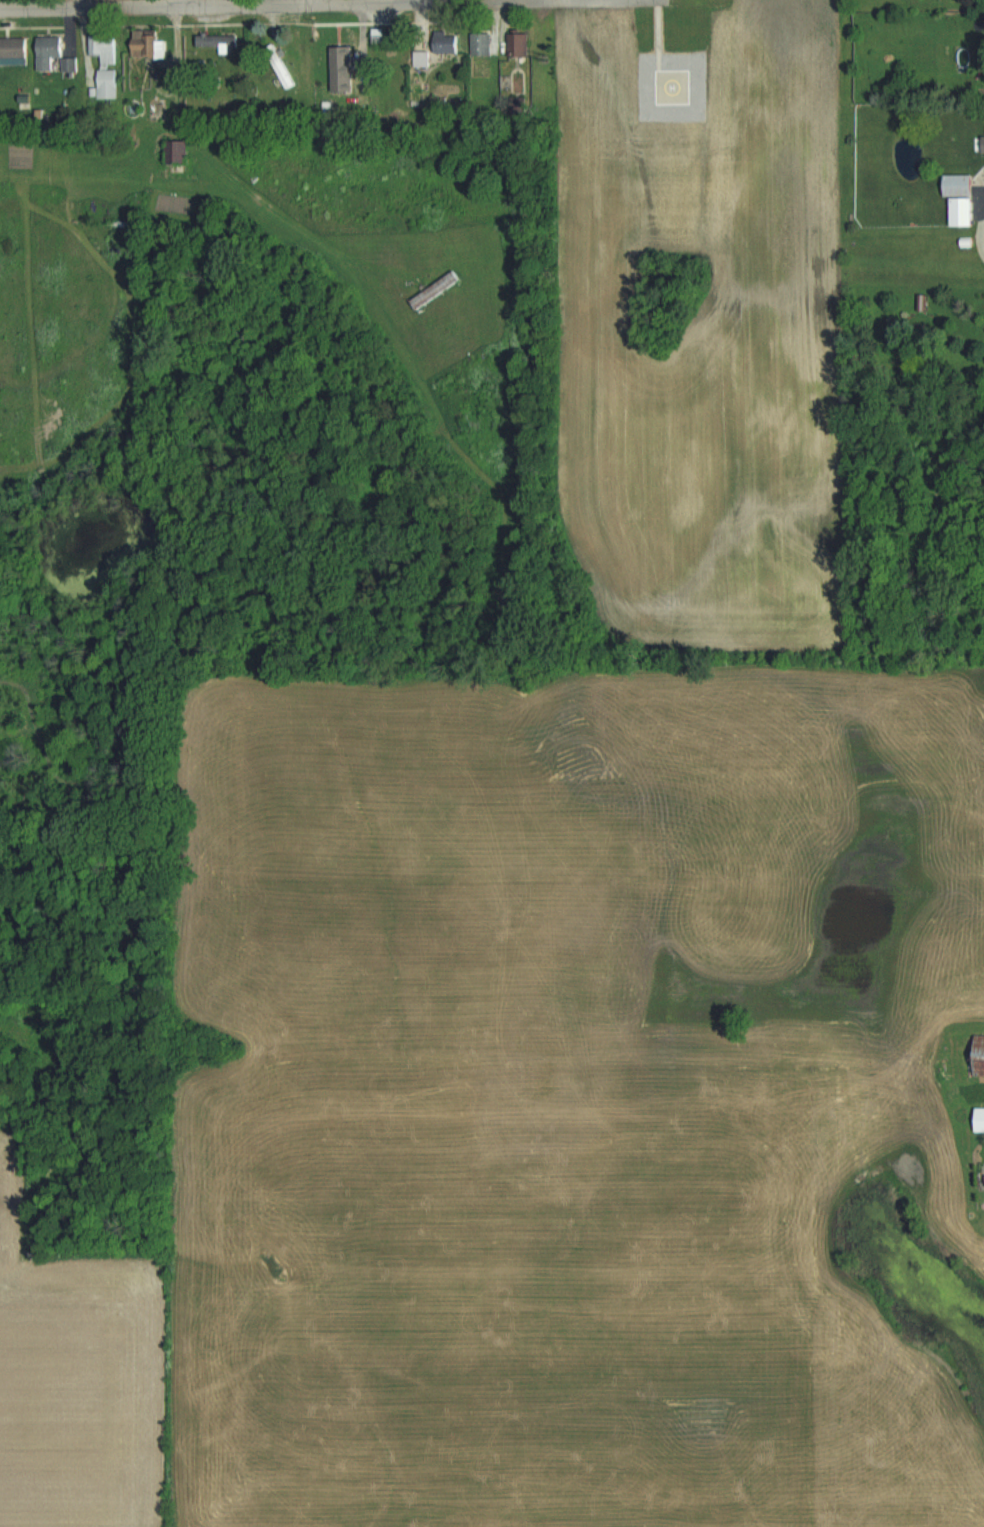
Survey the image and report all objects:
road: (428, 0)
road: (309, 2)
road: (179, 4)
road: (78, 5)
road: (276, 6)
building: (221, 40)
building: (149, 42)
building: (445, 42)
building: (482, 43)
building: (518, 43)
building: (332, 46)
building: (15, 47)
building: (51, 51)
building: (422, 58)
building: (109, 62)
building: (288, 75)
helipad: (669, 85)
building: (179, 151)
road: (229, 186)
building: (962, 197)
road: (977, 236)
building: (980, 1054)
building: (981, 1119)

